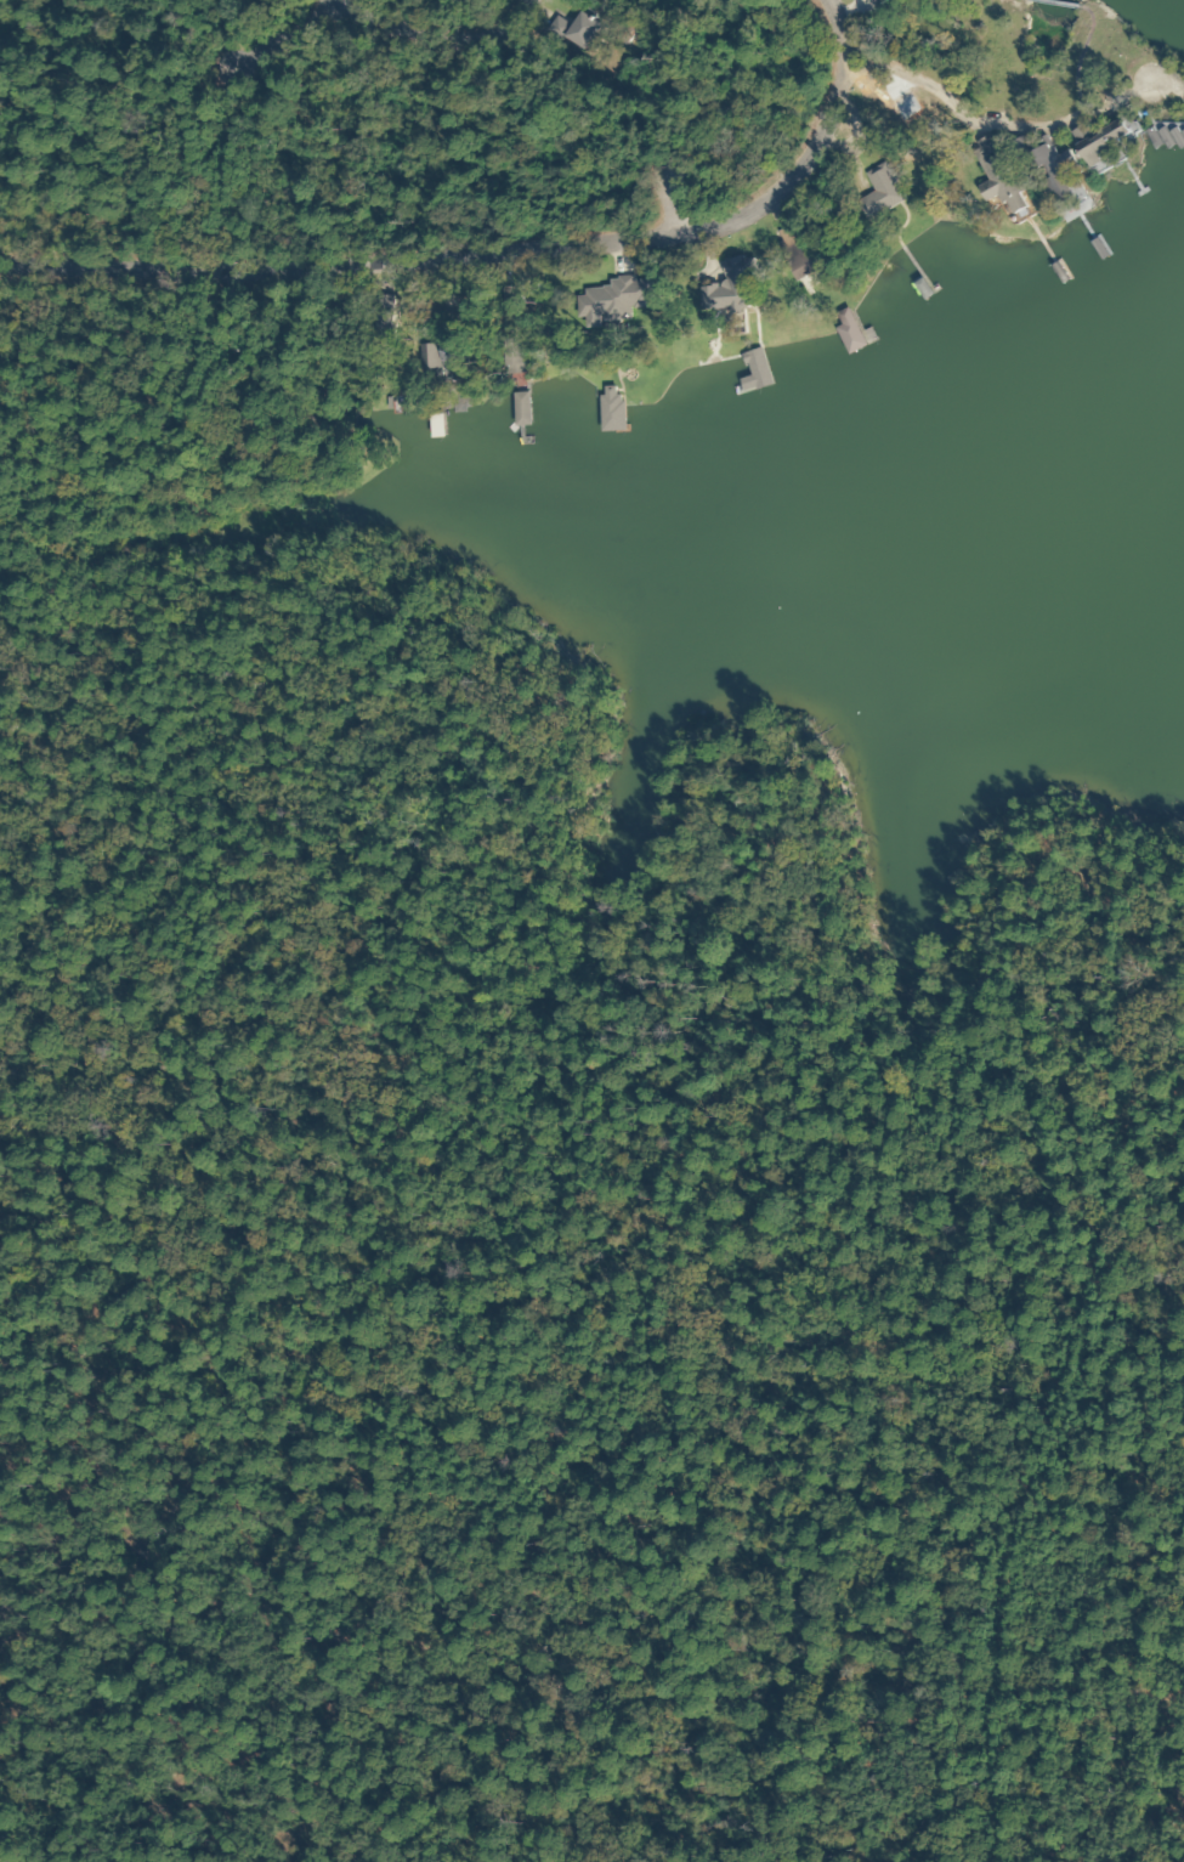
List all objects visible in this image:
building: (851, 0)
building: (573, 30)
road: (646, 87)
building: (1104, 147)
road: (471, 165)
building: (1049, 171)
building: (997, 176)
building: (879, 193)
building: (793, 253)
building: (727, 287)
building: (606, 301)
building: (511, 302)
building: (511, 356)
building: (432, 362)
building: (755, 369)
building: (519, 409)
building: (610, 411)

